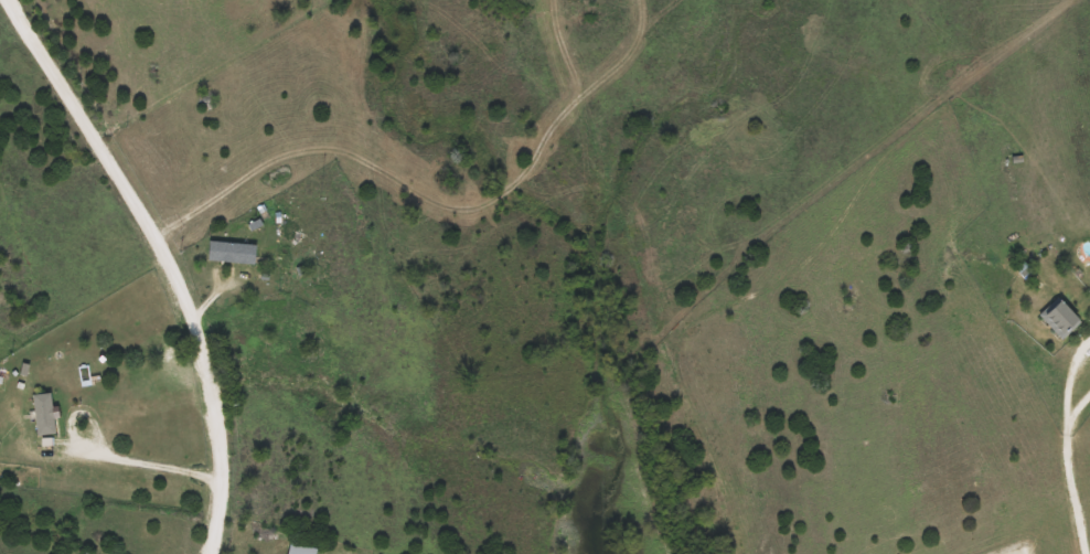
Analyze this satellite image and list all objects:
building: (234, 254)
road: (164, 260)
building: (1060, 318)
road: (1062, 366)
road: (1071, 394)
building: (44, 413)
road: (147, 464)
road: (1069, 486)
building: (302, 548)

